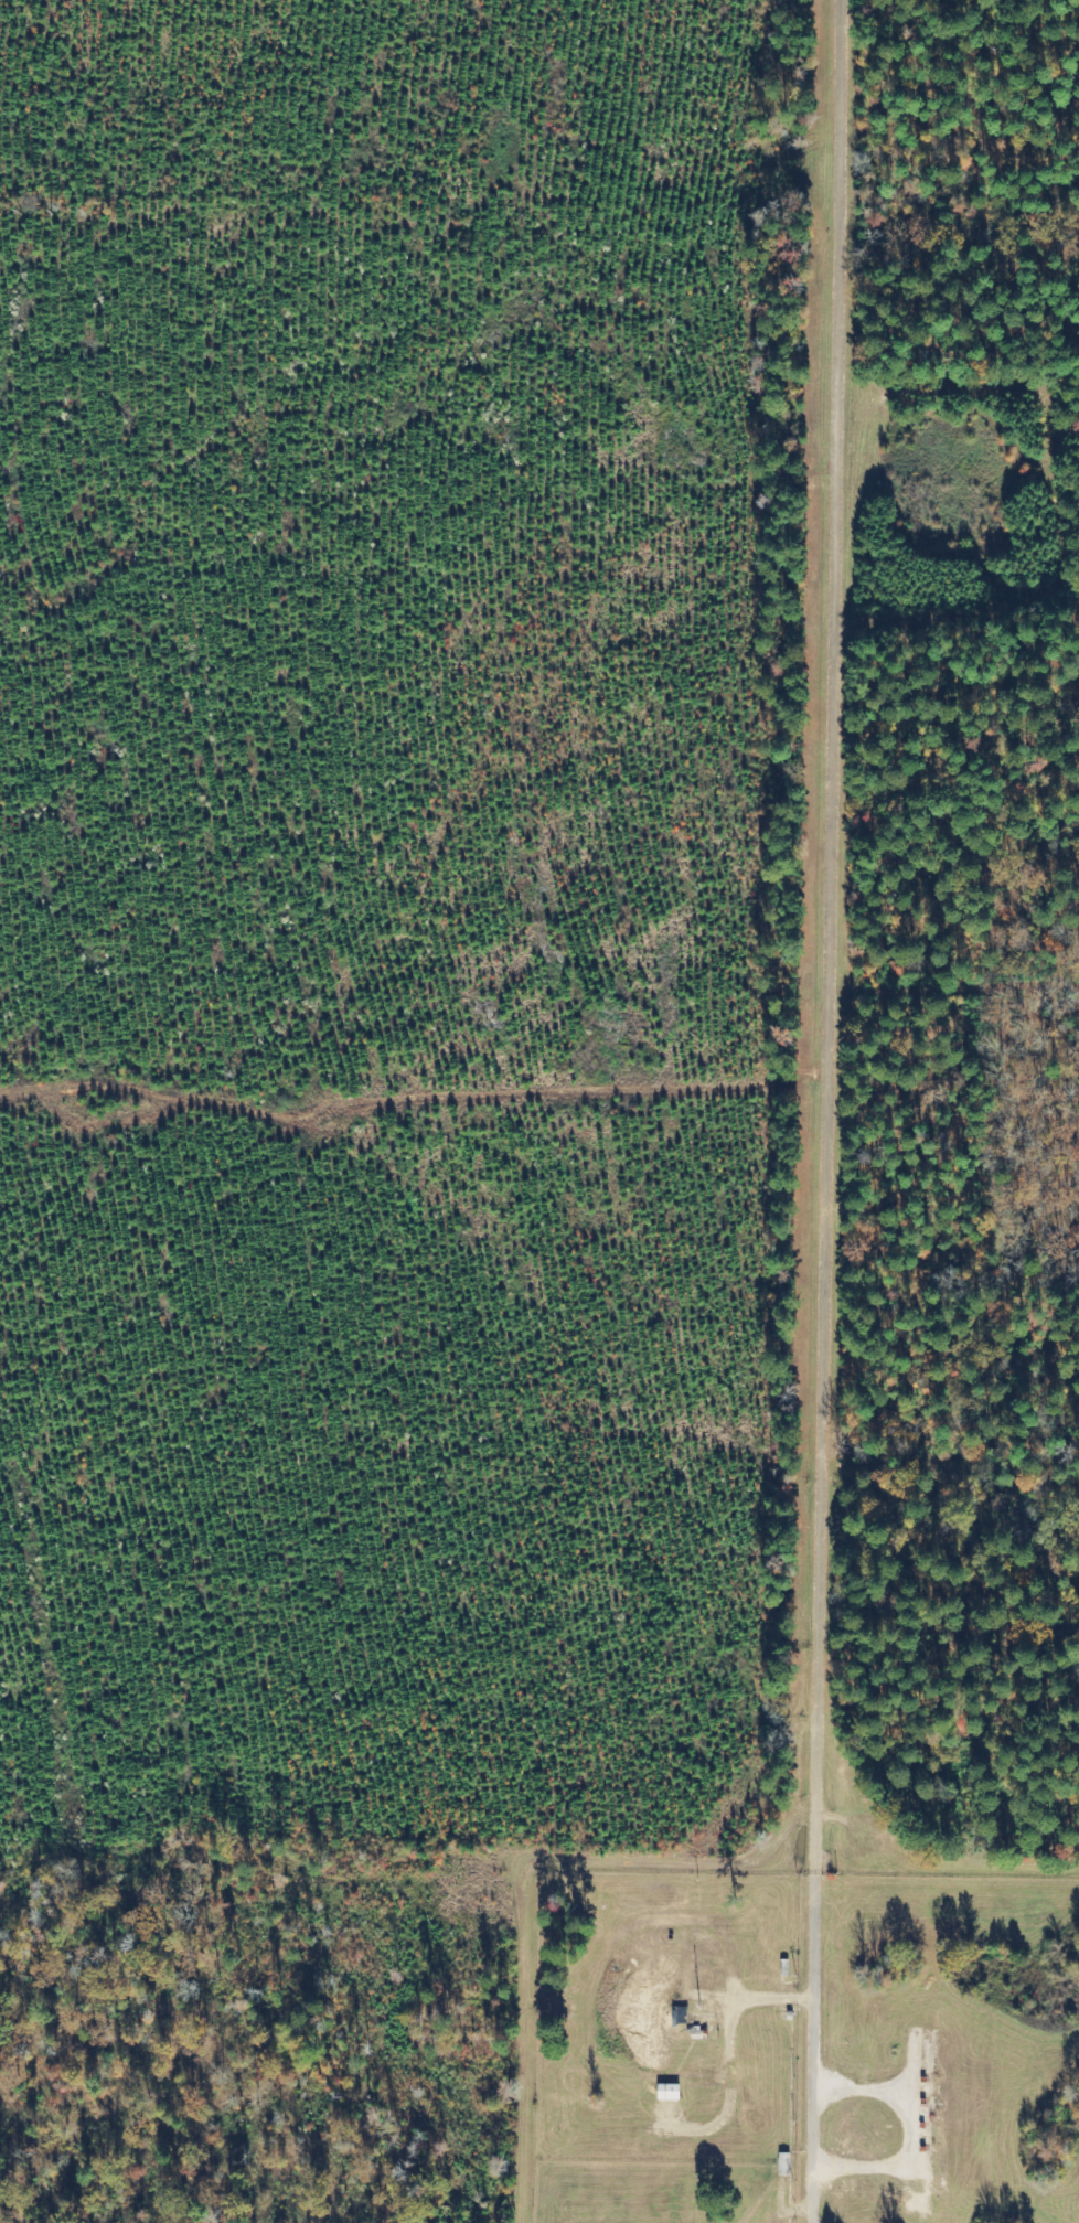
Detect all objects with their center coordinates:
road: (825, 1111)

